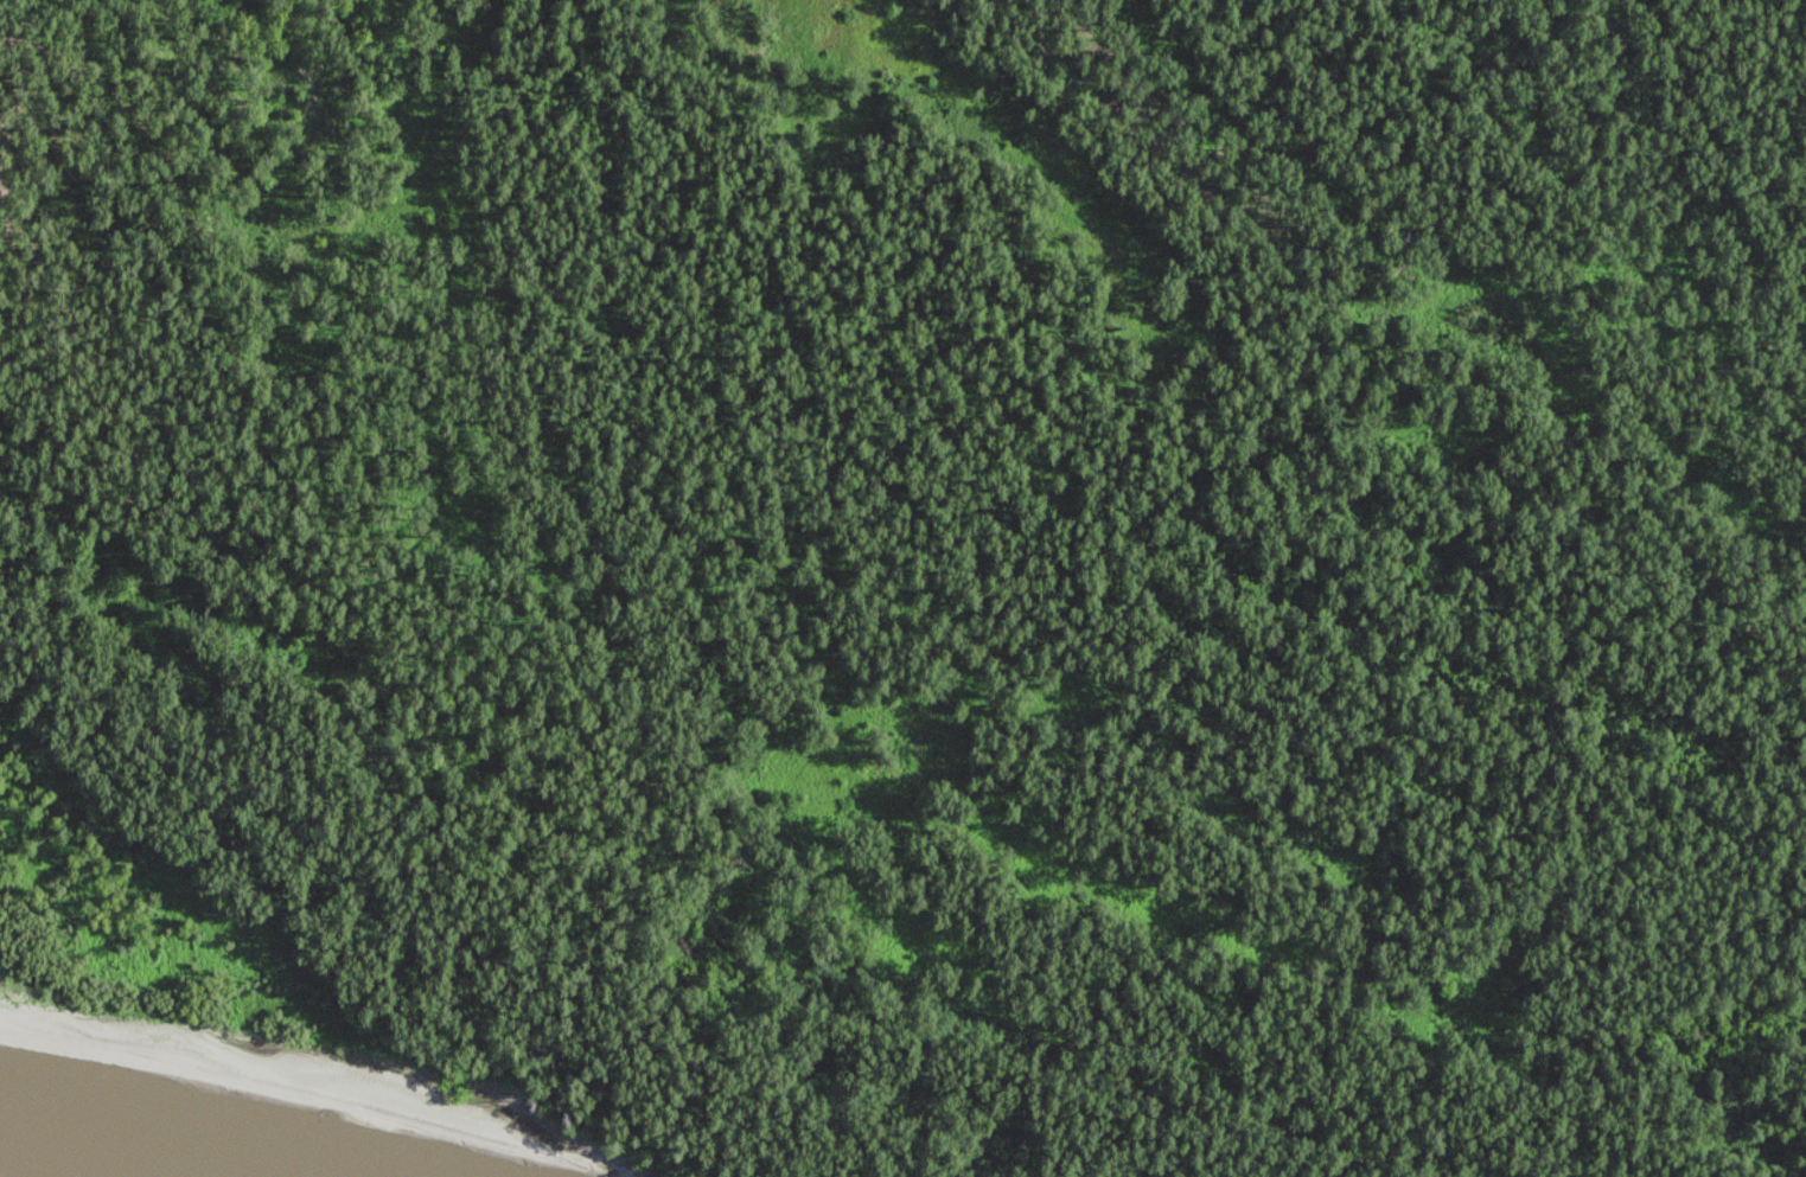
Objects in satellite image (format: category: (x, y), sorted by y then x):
river: (87, 1152)

